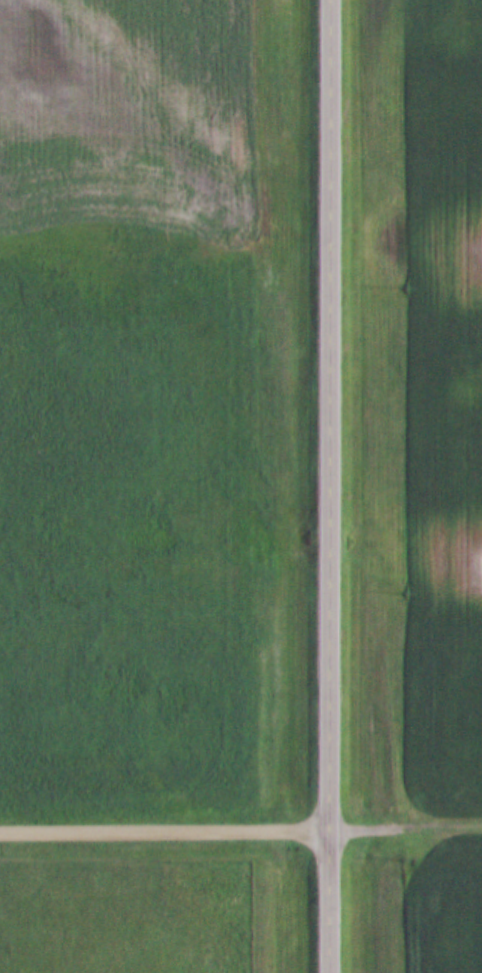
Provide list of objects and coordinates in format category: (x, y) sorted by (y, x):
road: (326, 486)
road: (404, 825)
road: (163, 830)
crop: (446, 905)

